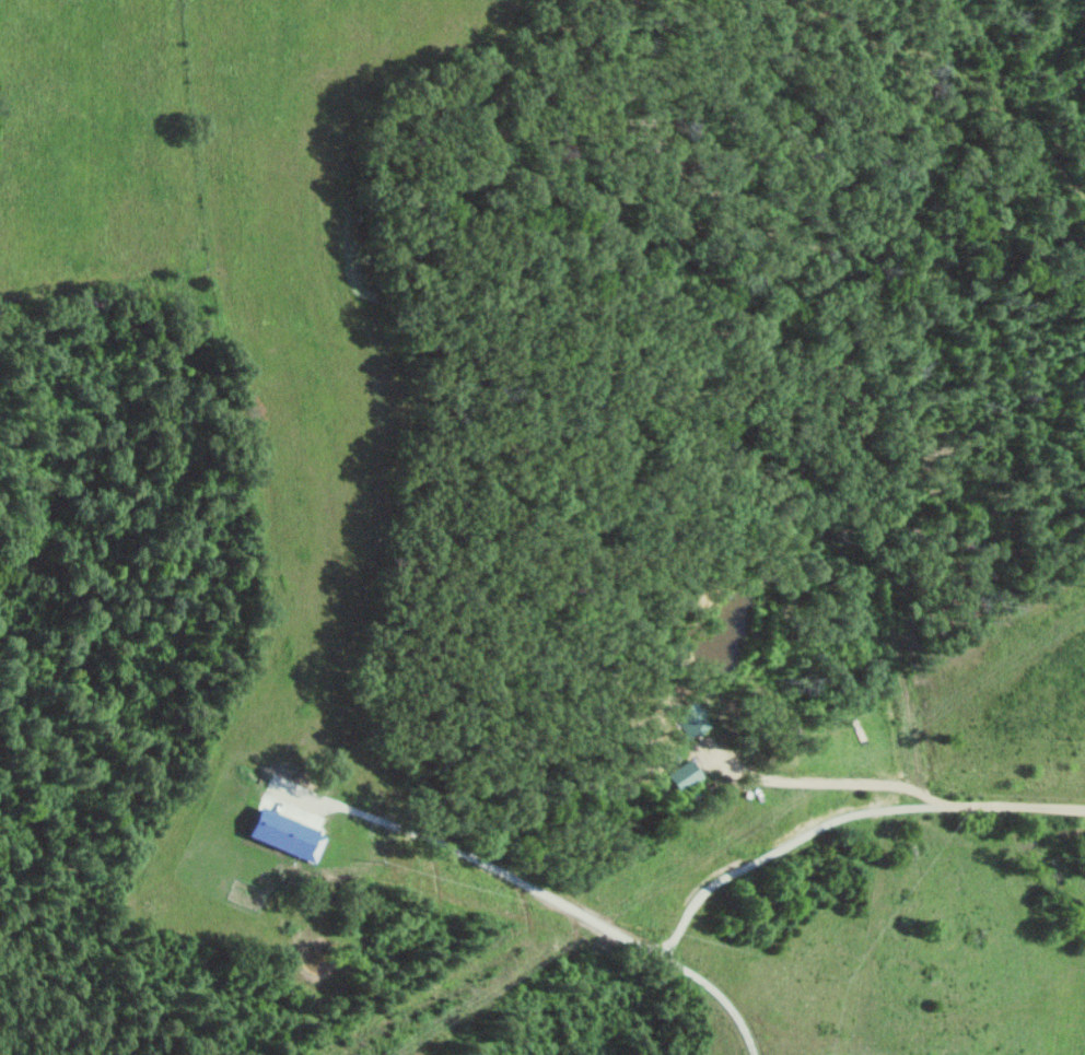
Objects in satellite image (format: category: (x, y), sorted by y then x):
building: (689, 719)
building: (679, 776)
road: (900, 787)
building: (287, 835)

